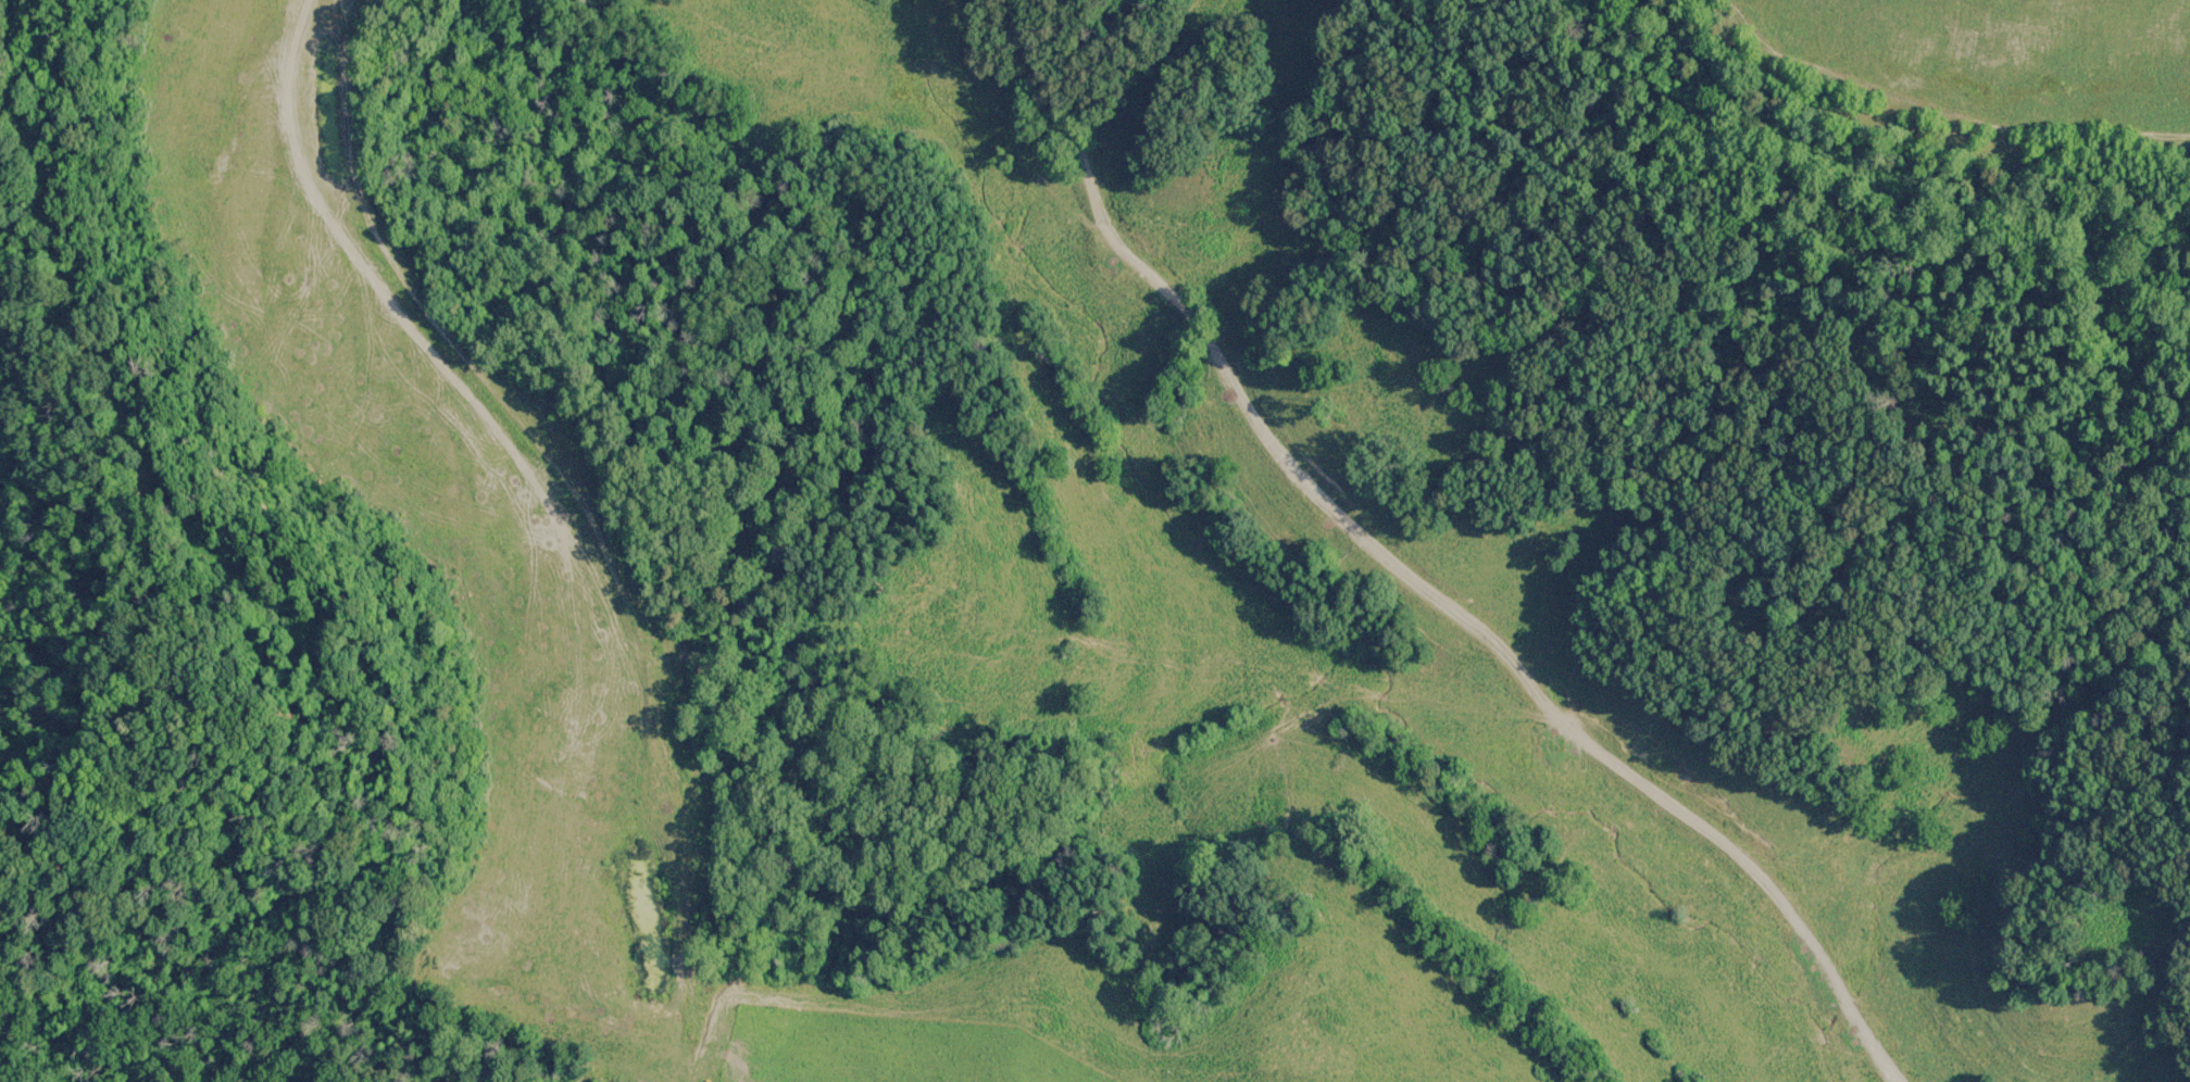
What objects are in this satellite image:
road: (1409, 580)

